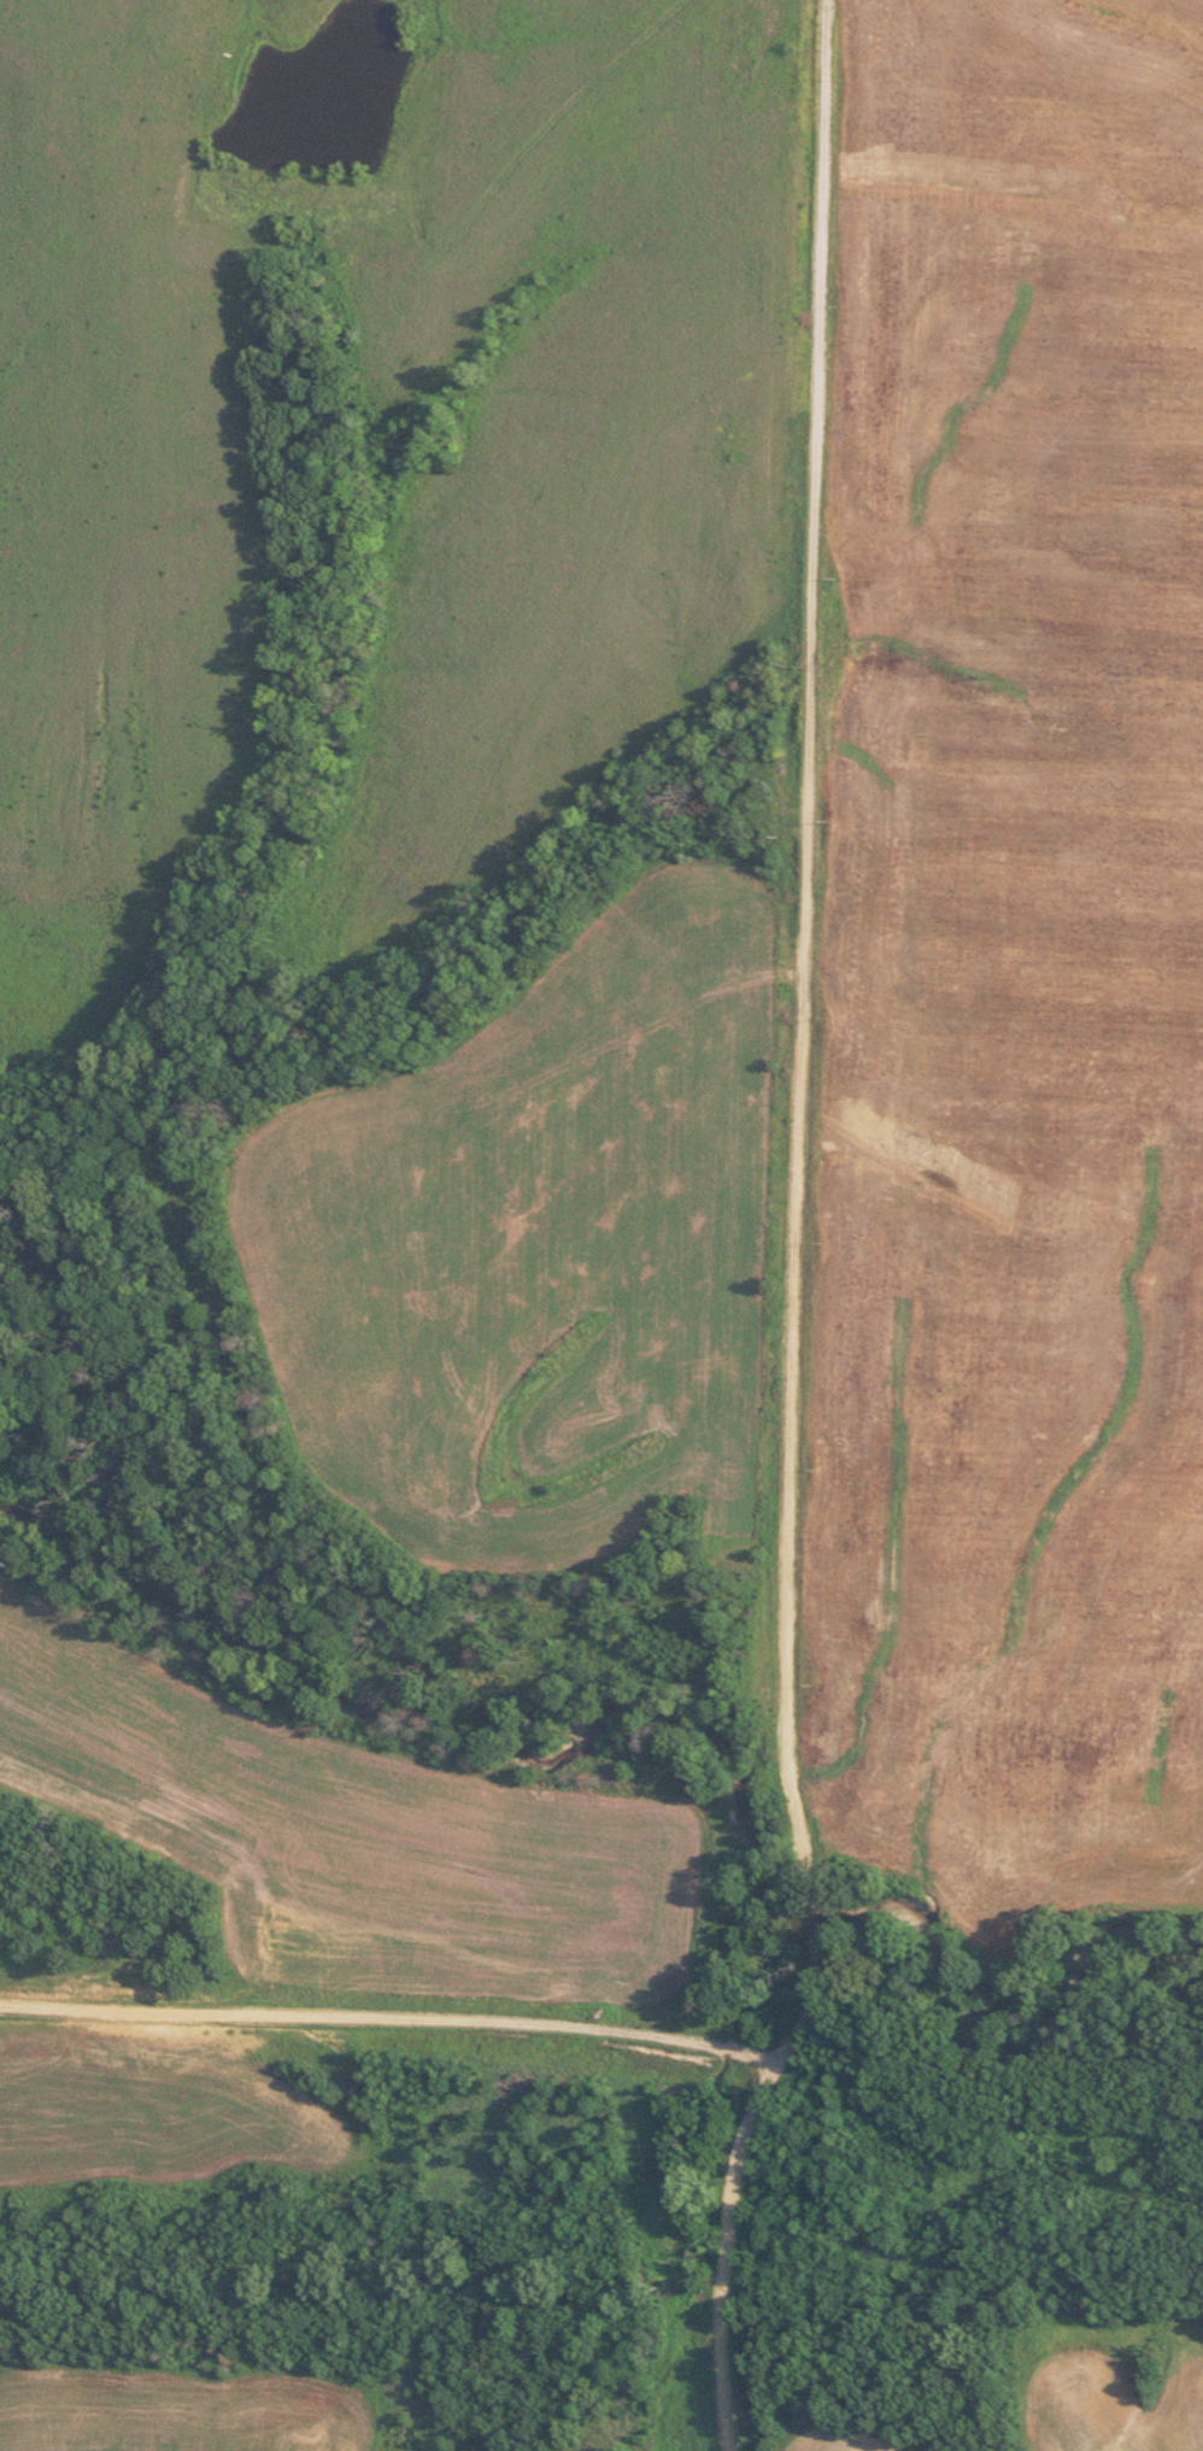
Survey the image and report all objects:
road: (804, 910)
road: (386, 2021)
road: (777, 2052)
road: (750, 2129)

